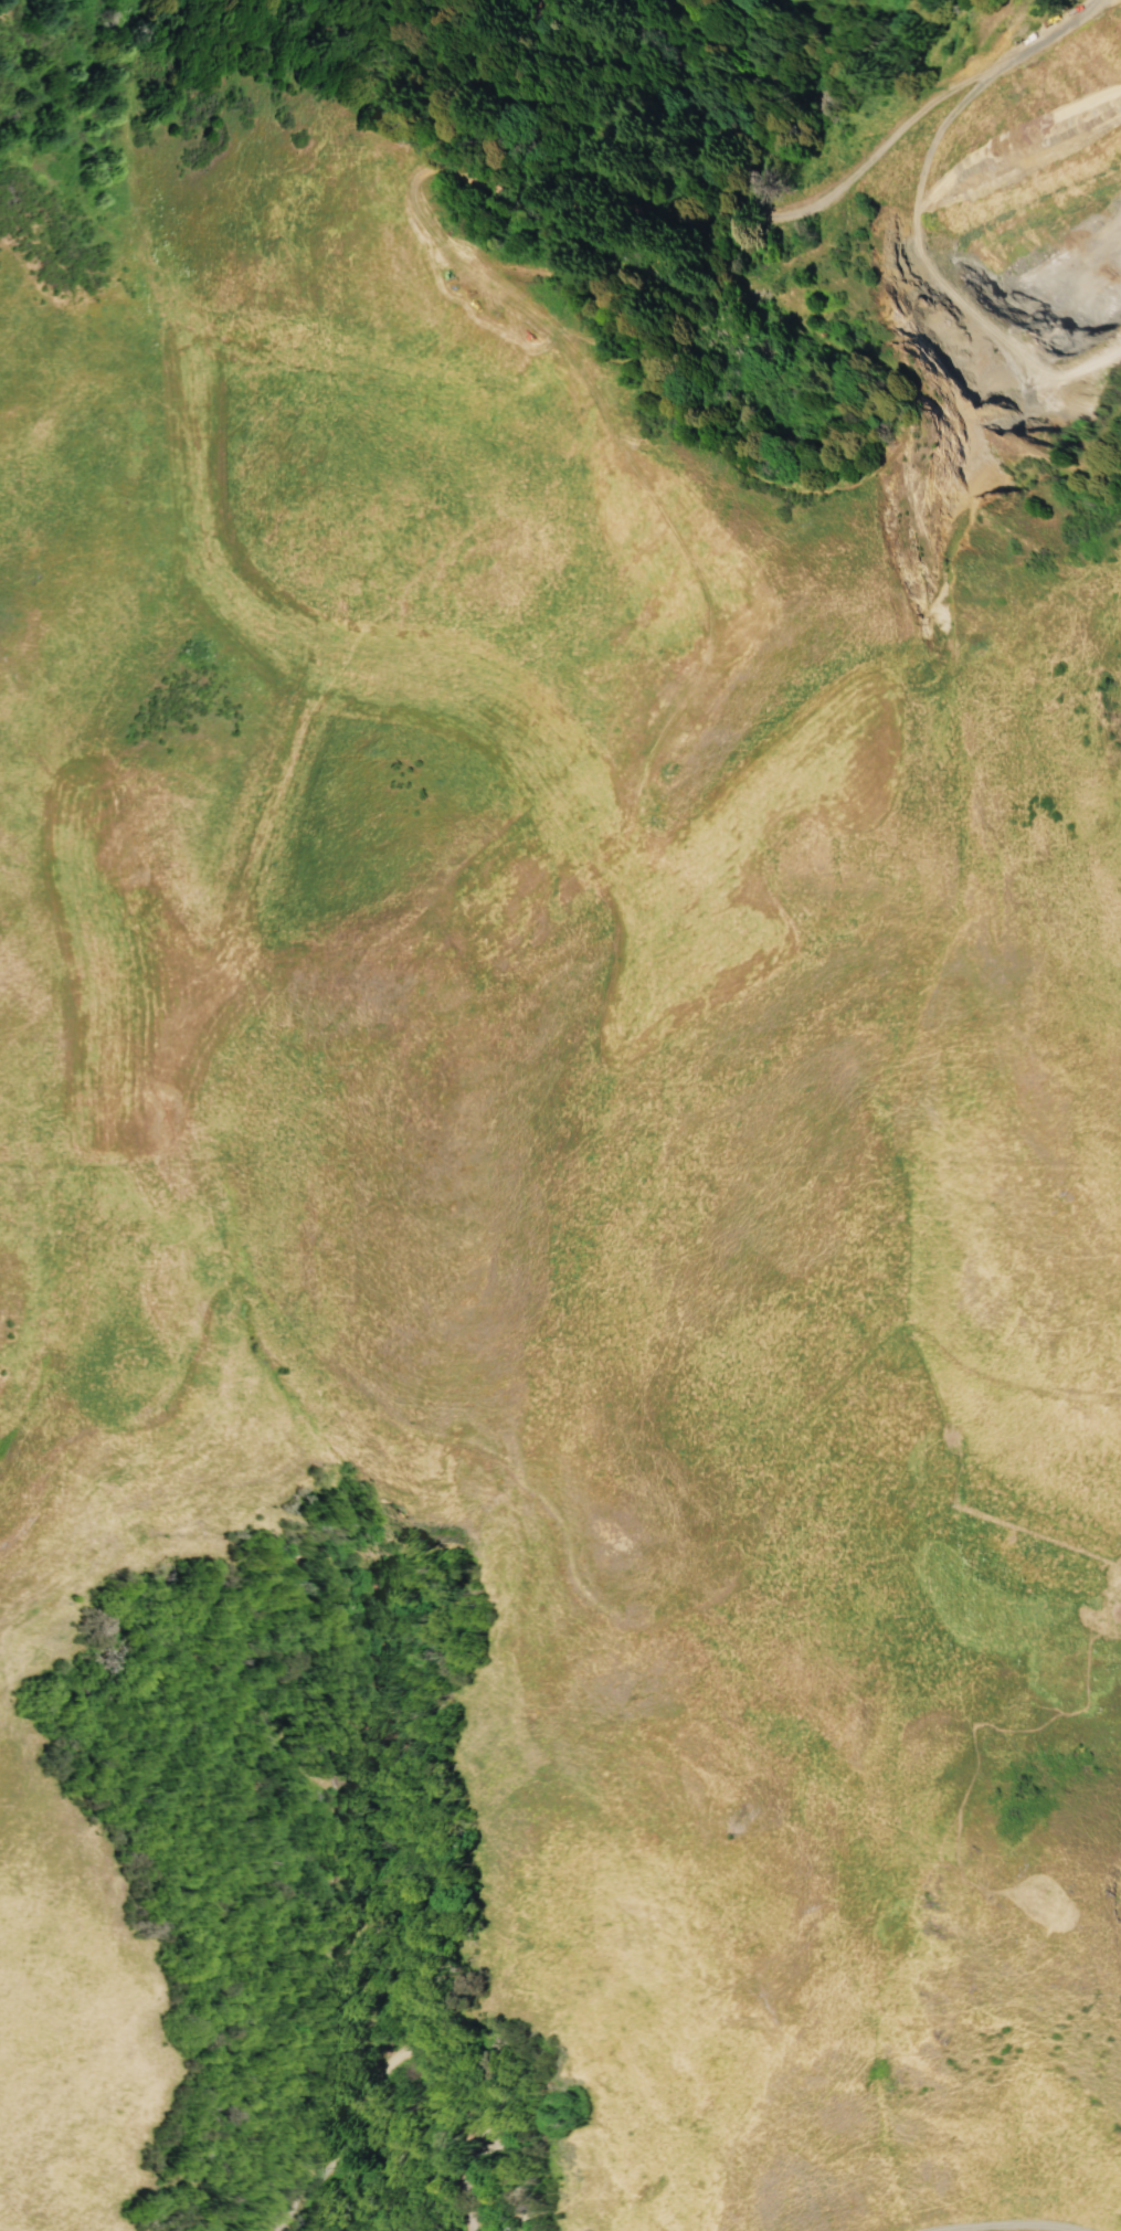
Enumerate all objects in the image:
quarry: (1000, 279)
road: (388, 2041)
road: (458, 2180)
road: (1003, 2219)

